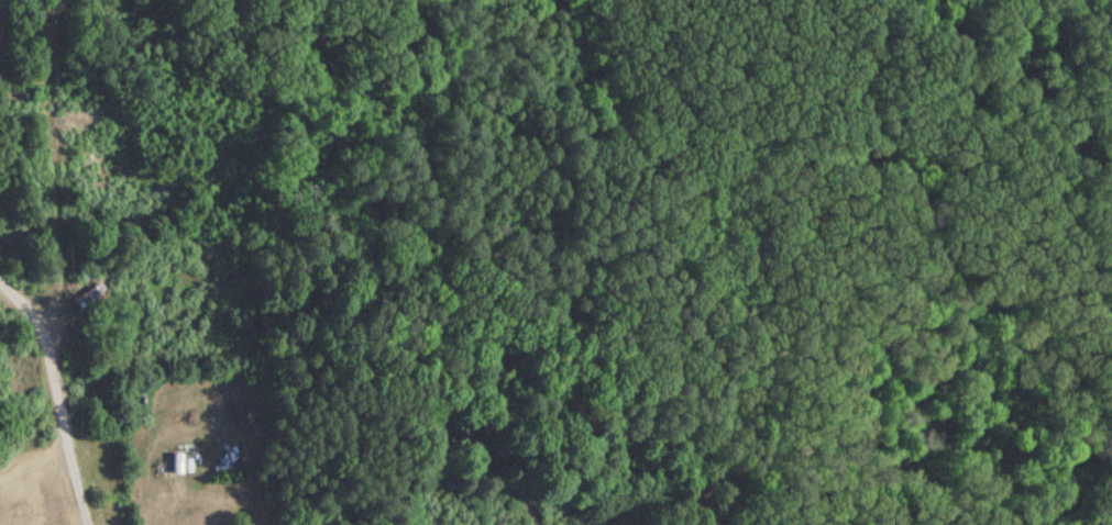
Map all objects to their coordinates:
building: (85, 293)

